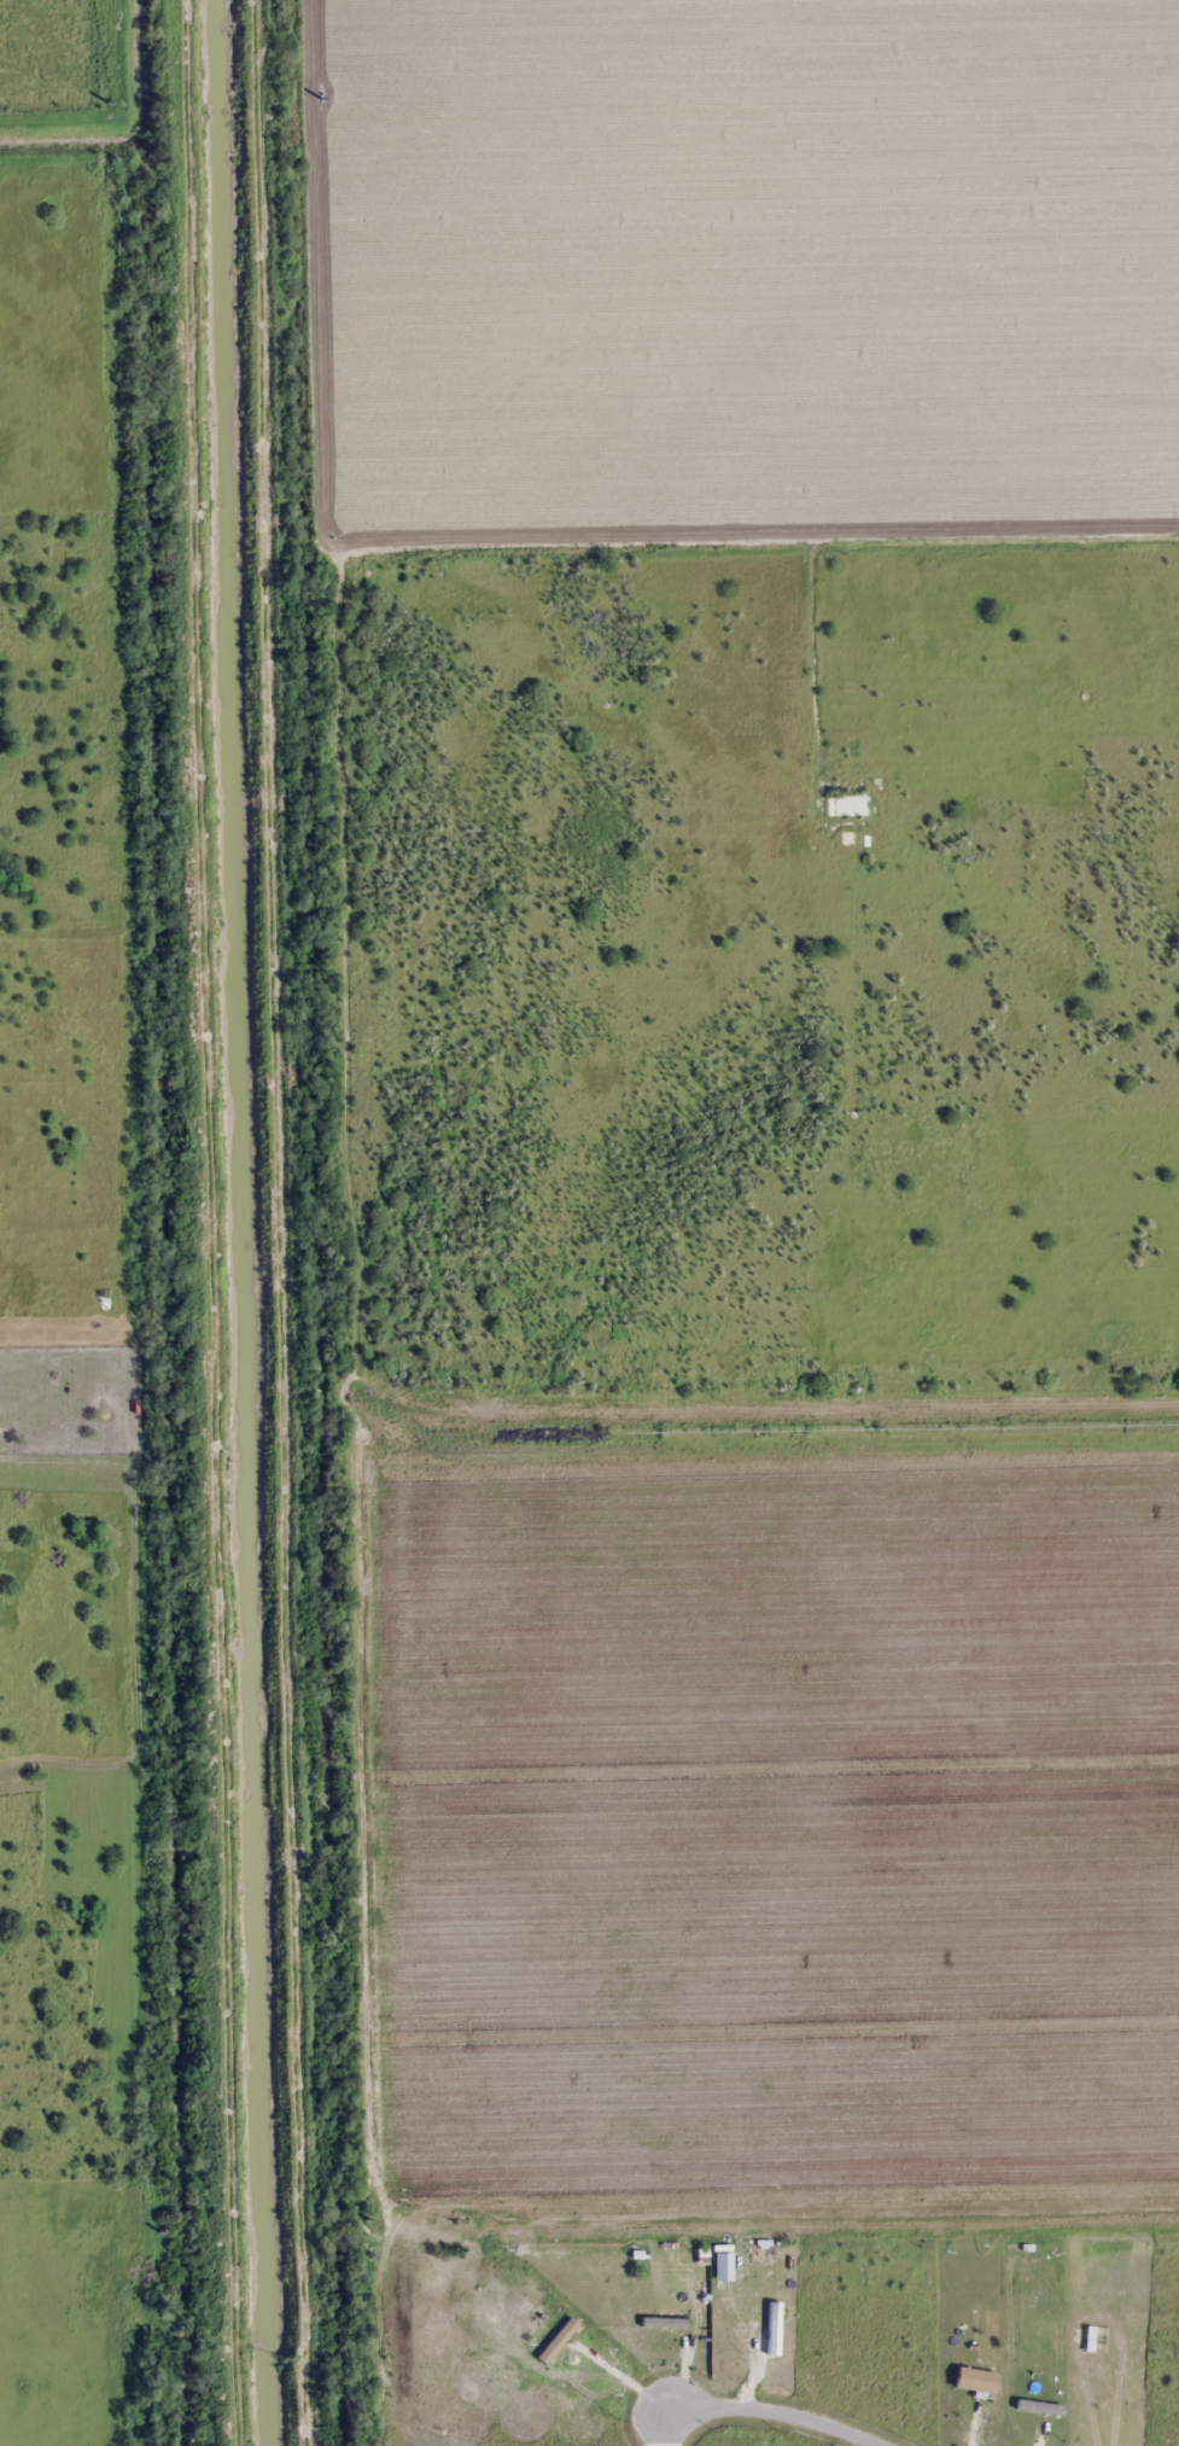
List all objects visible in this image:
road: (899, 540)
building: (847, 804)

